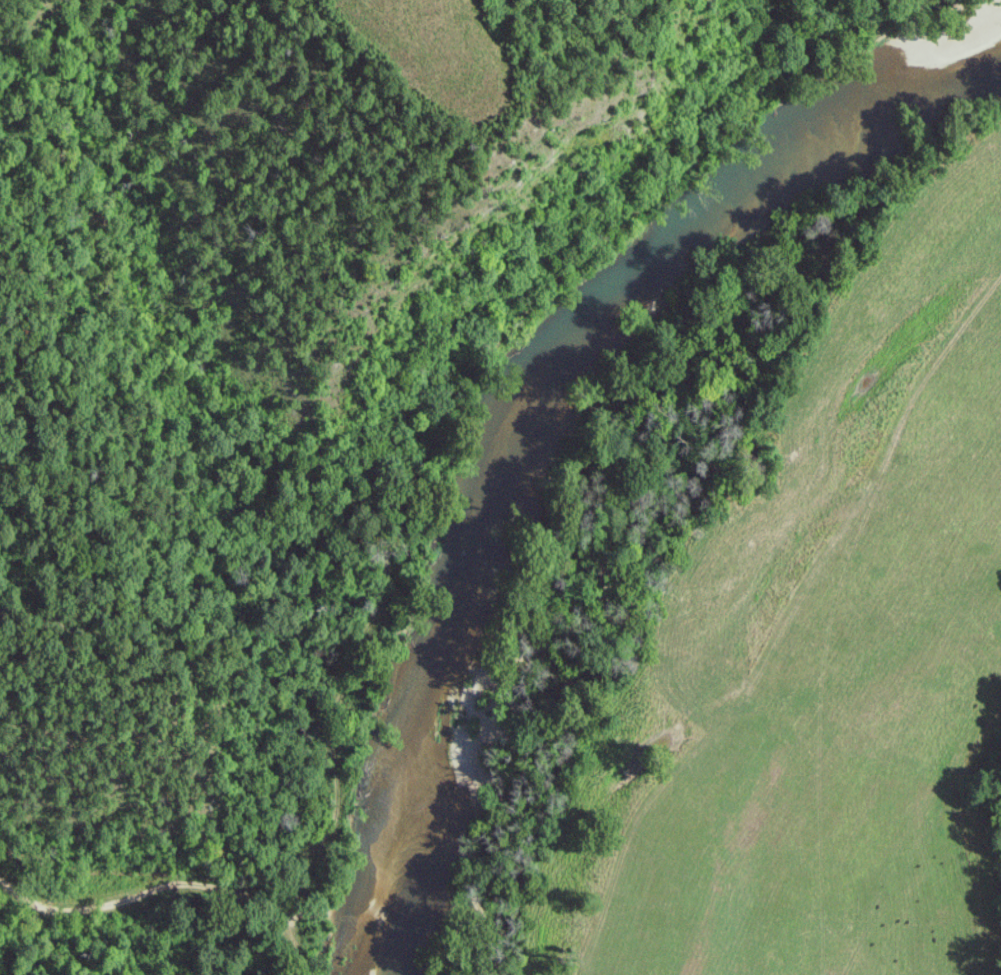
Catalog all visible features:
river: (521, 399)

